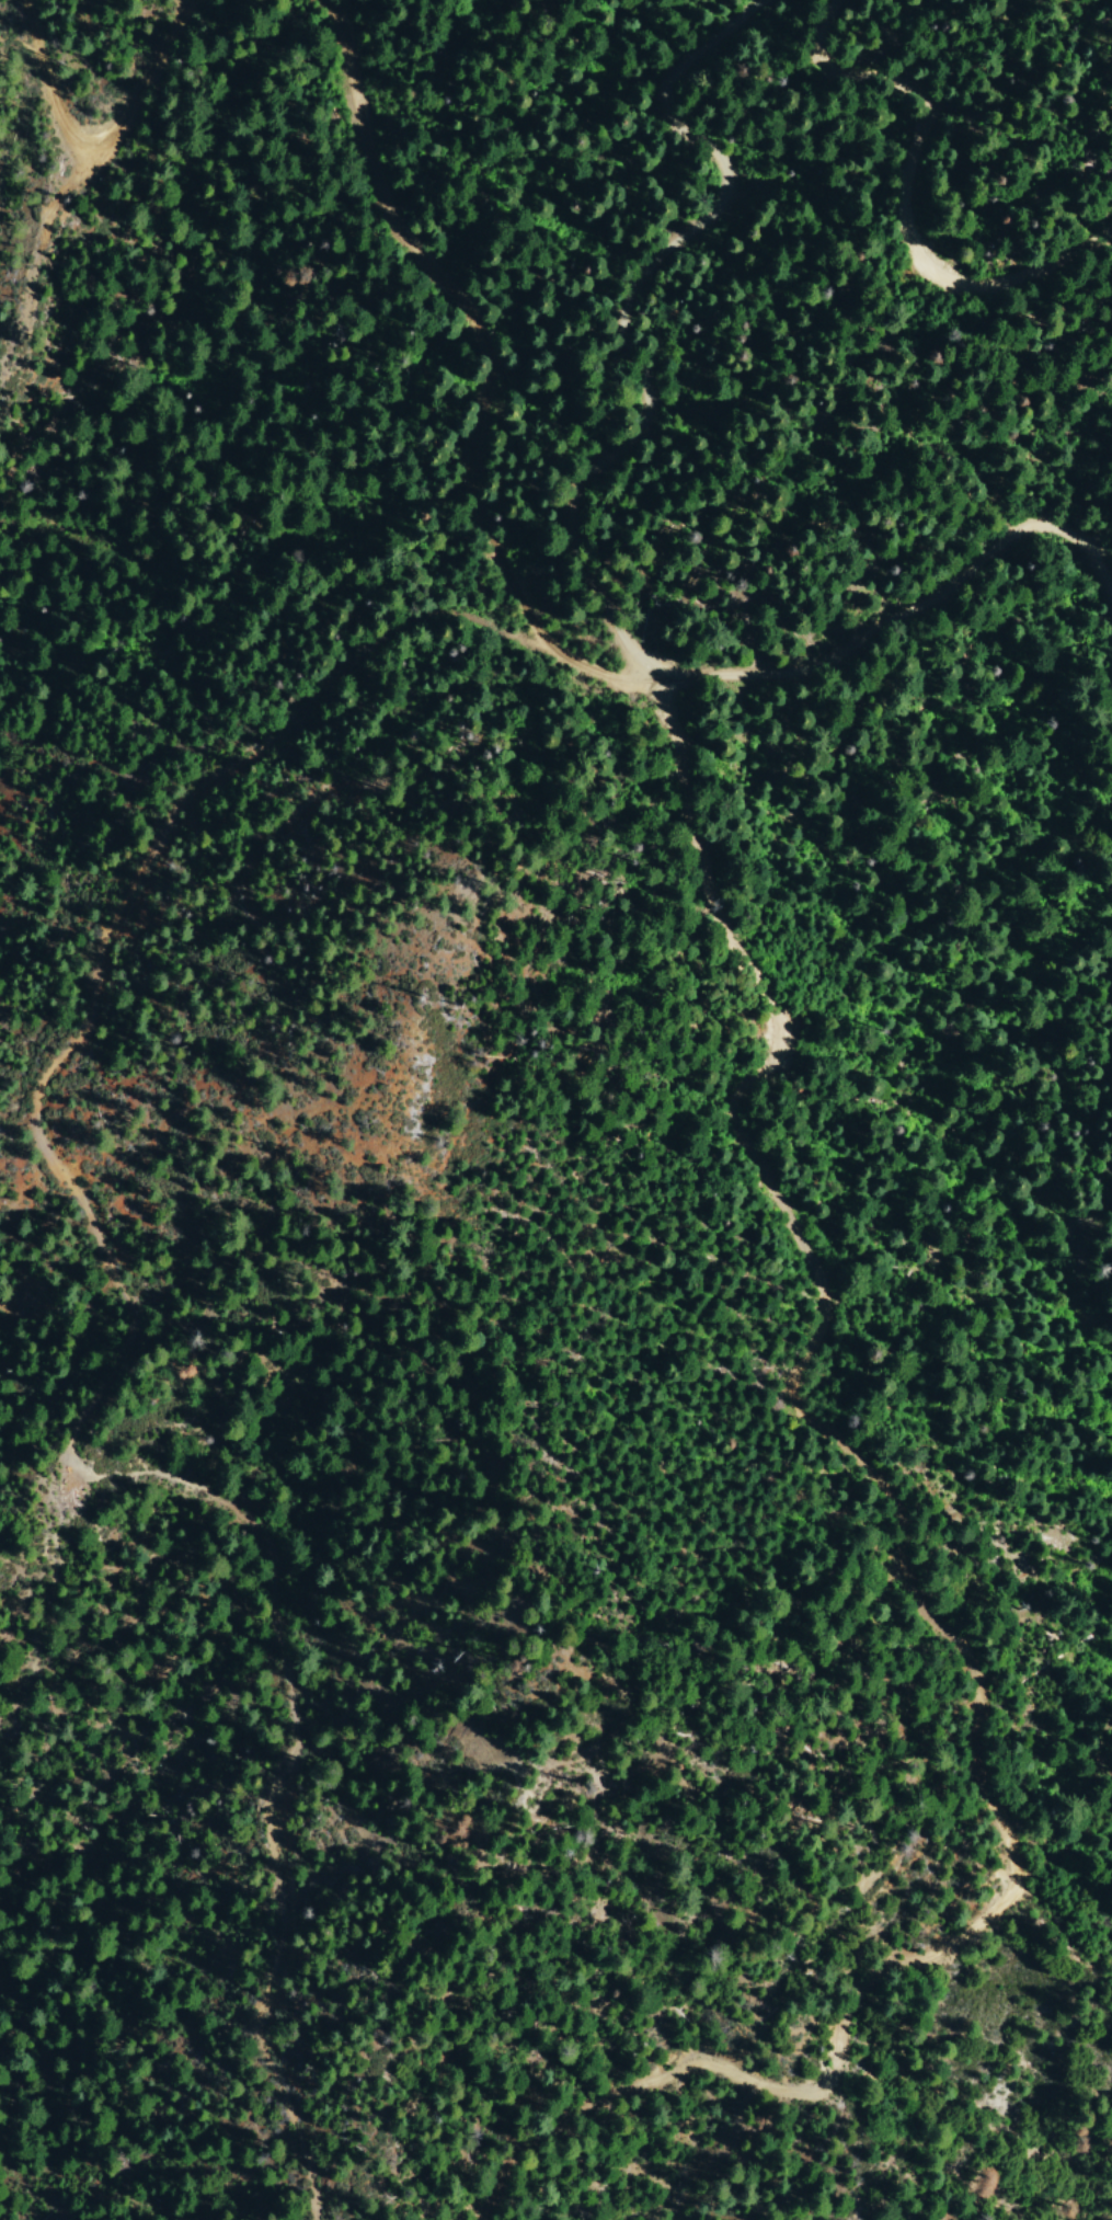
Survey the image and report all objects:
road: (92, 141)
road: (925, 202)
road: (575, 540)
road: (784, 1206)

